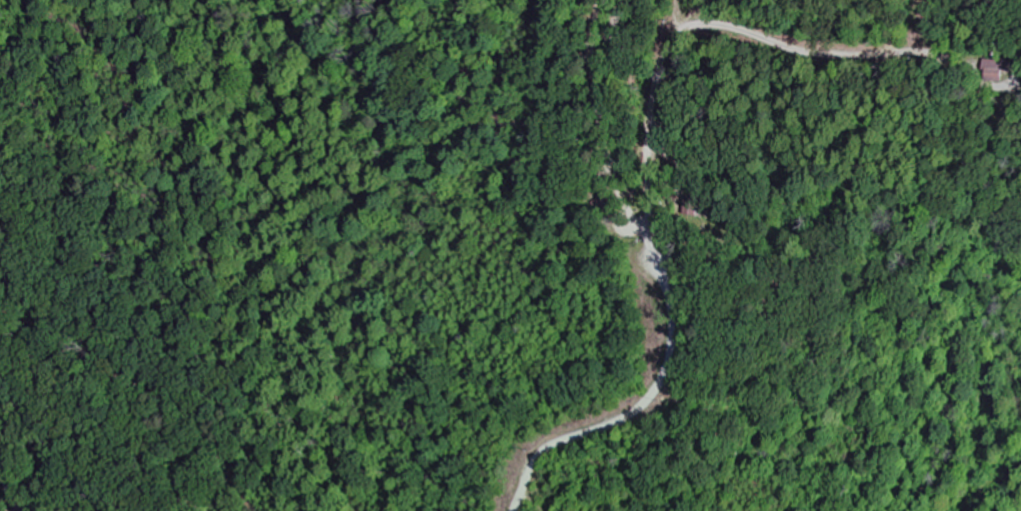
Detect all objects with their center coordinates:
road: (722, 27)
road: (609, 32)
road: (665, 289)
road: (7, 494)

